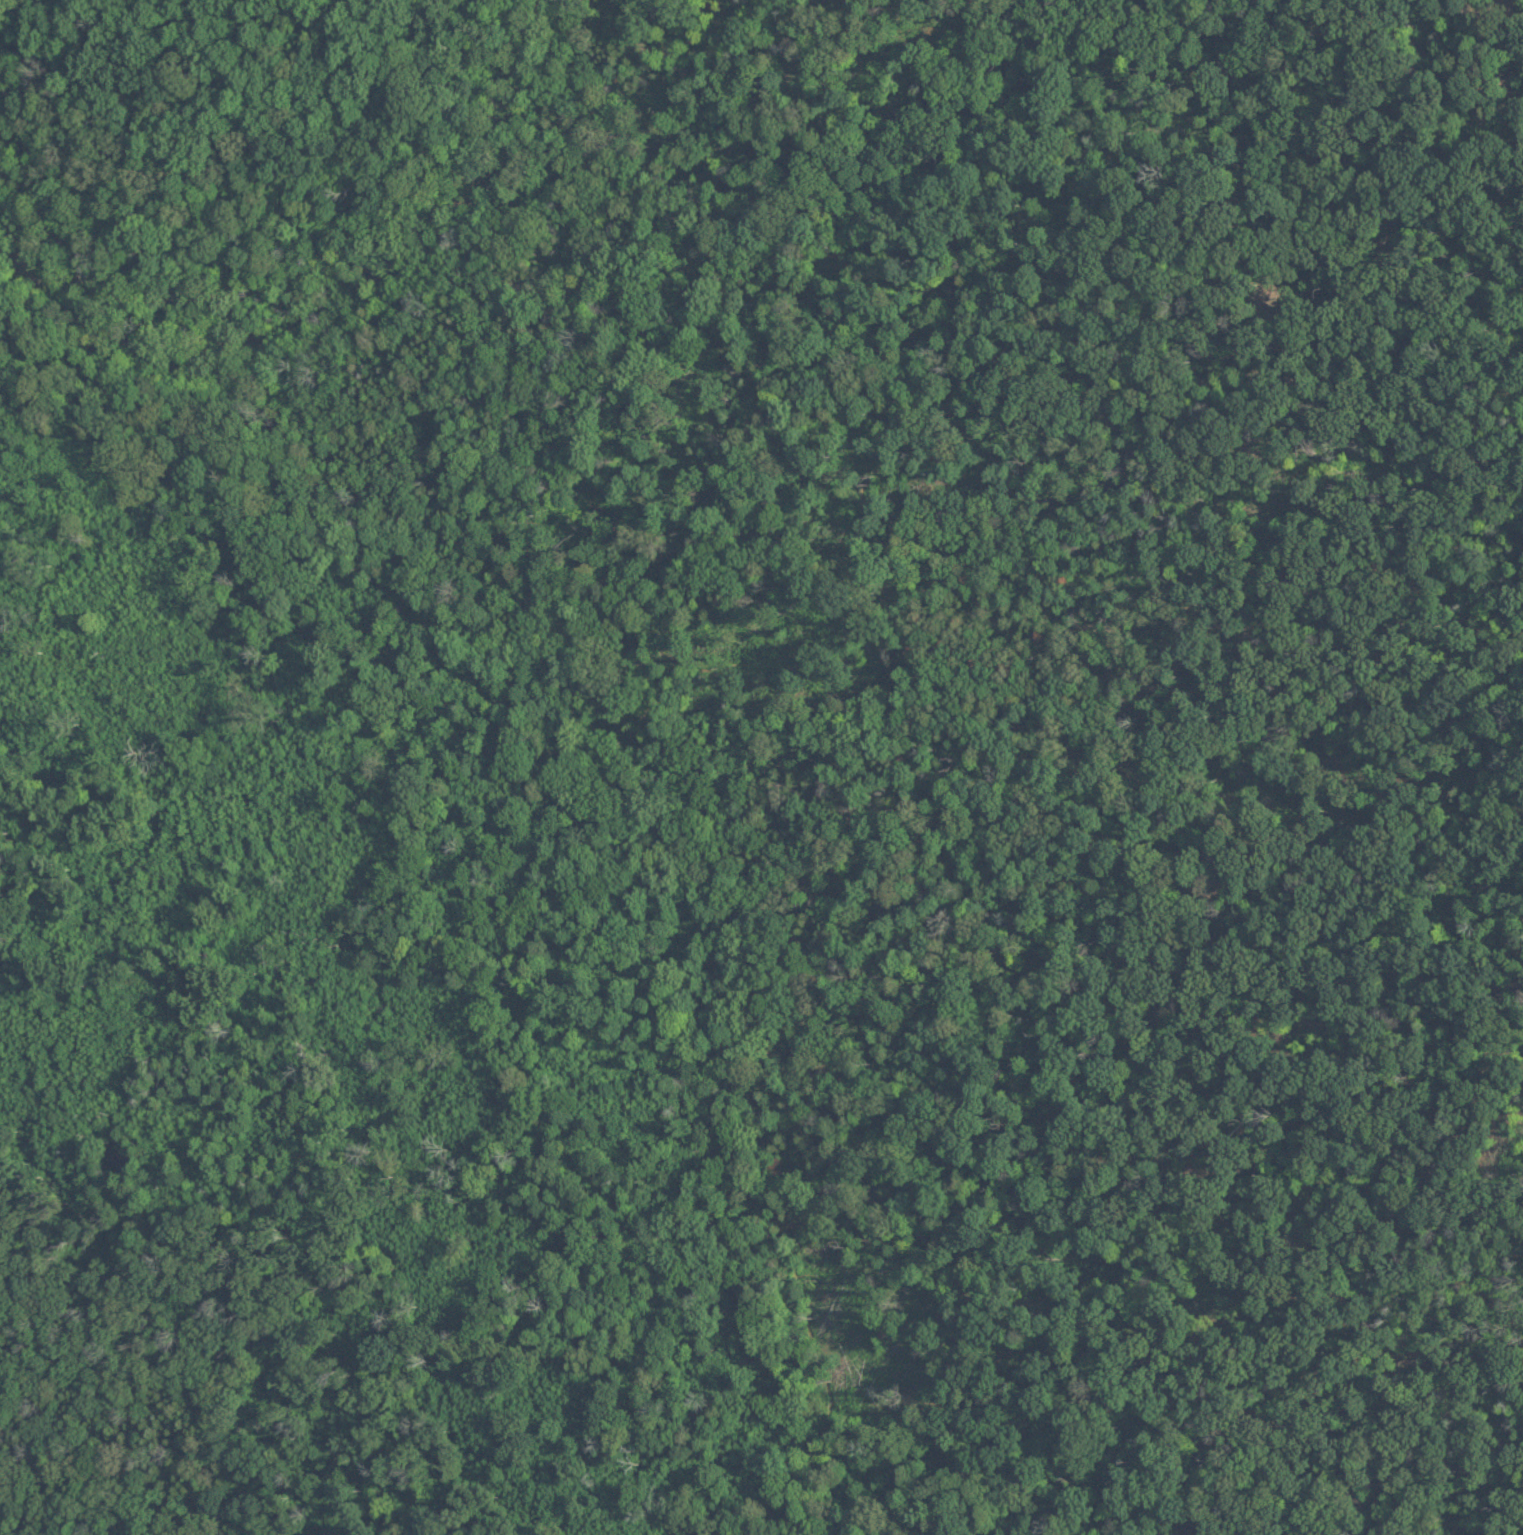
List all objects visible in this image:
park: (228, 164)

